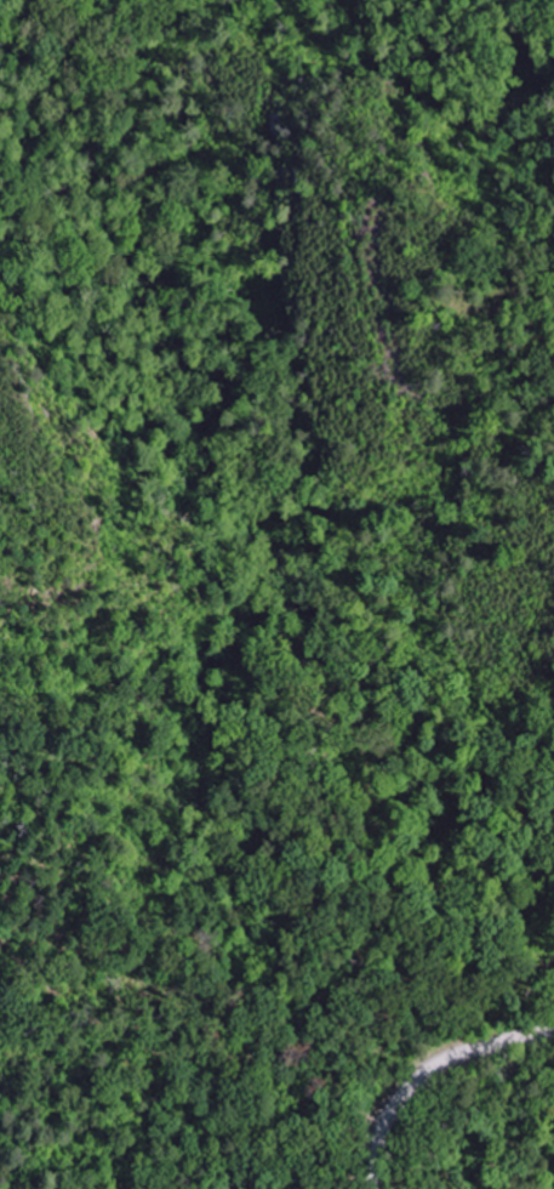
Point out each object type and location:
road: (430, 1073)

